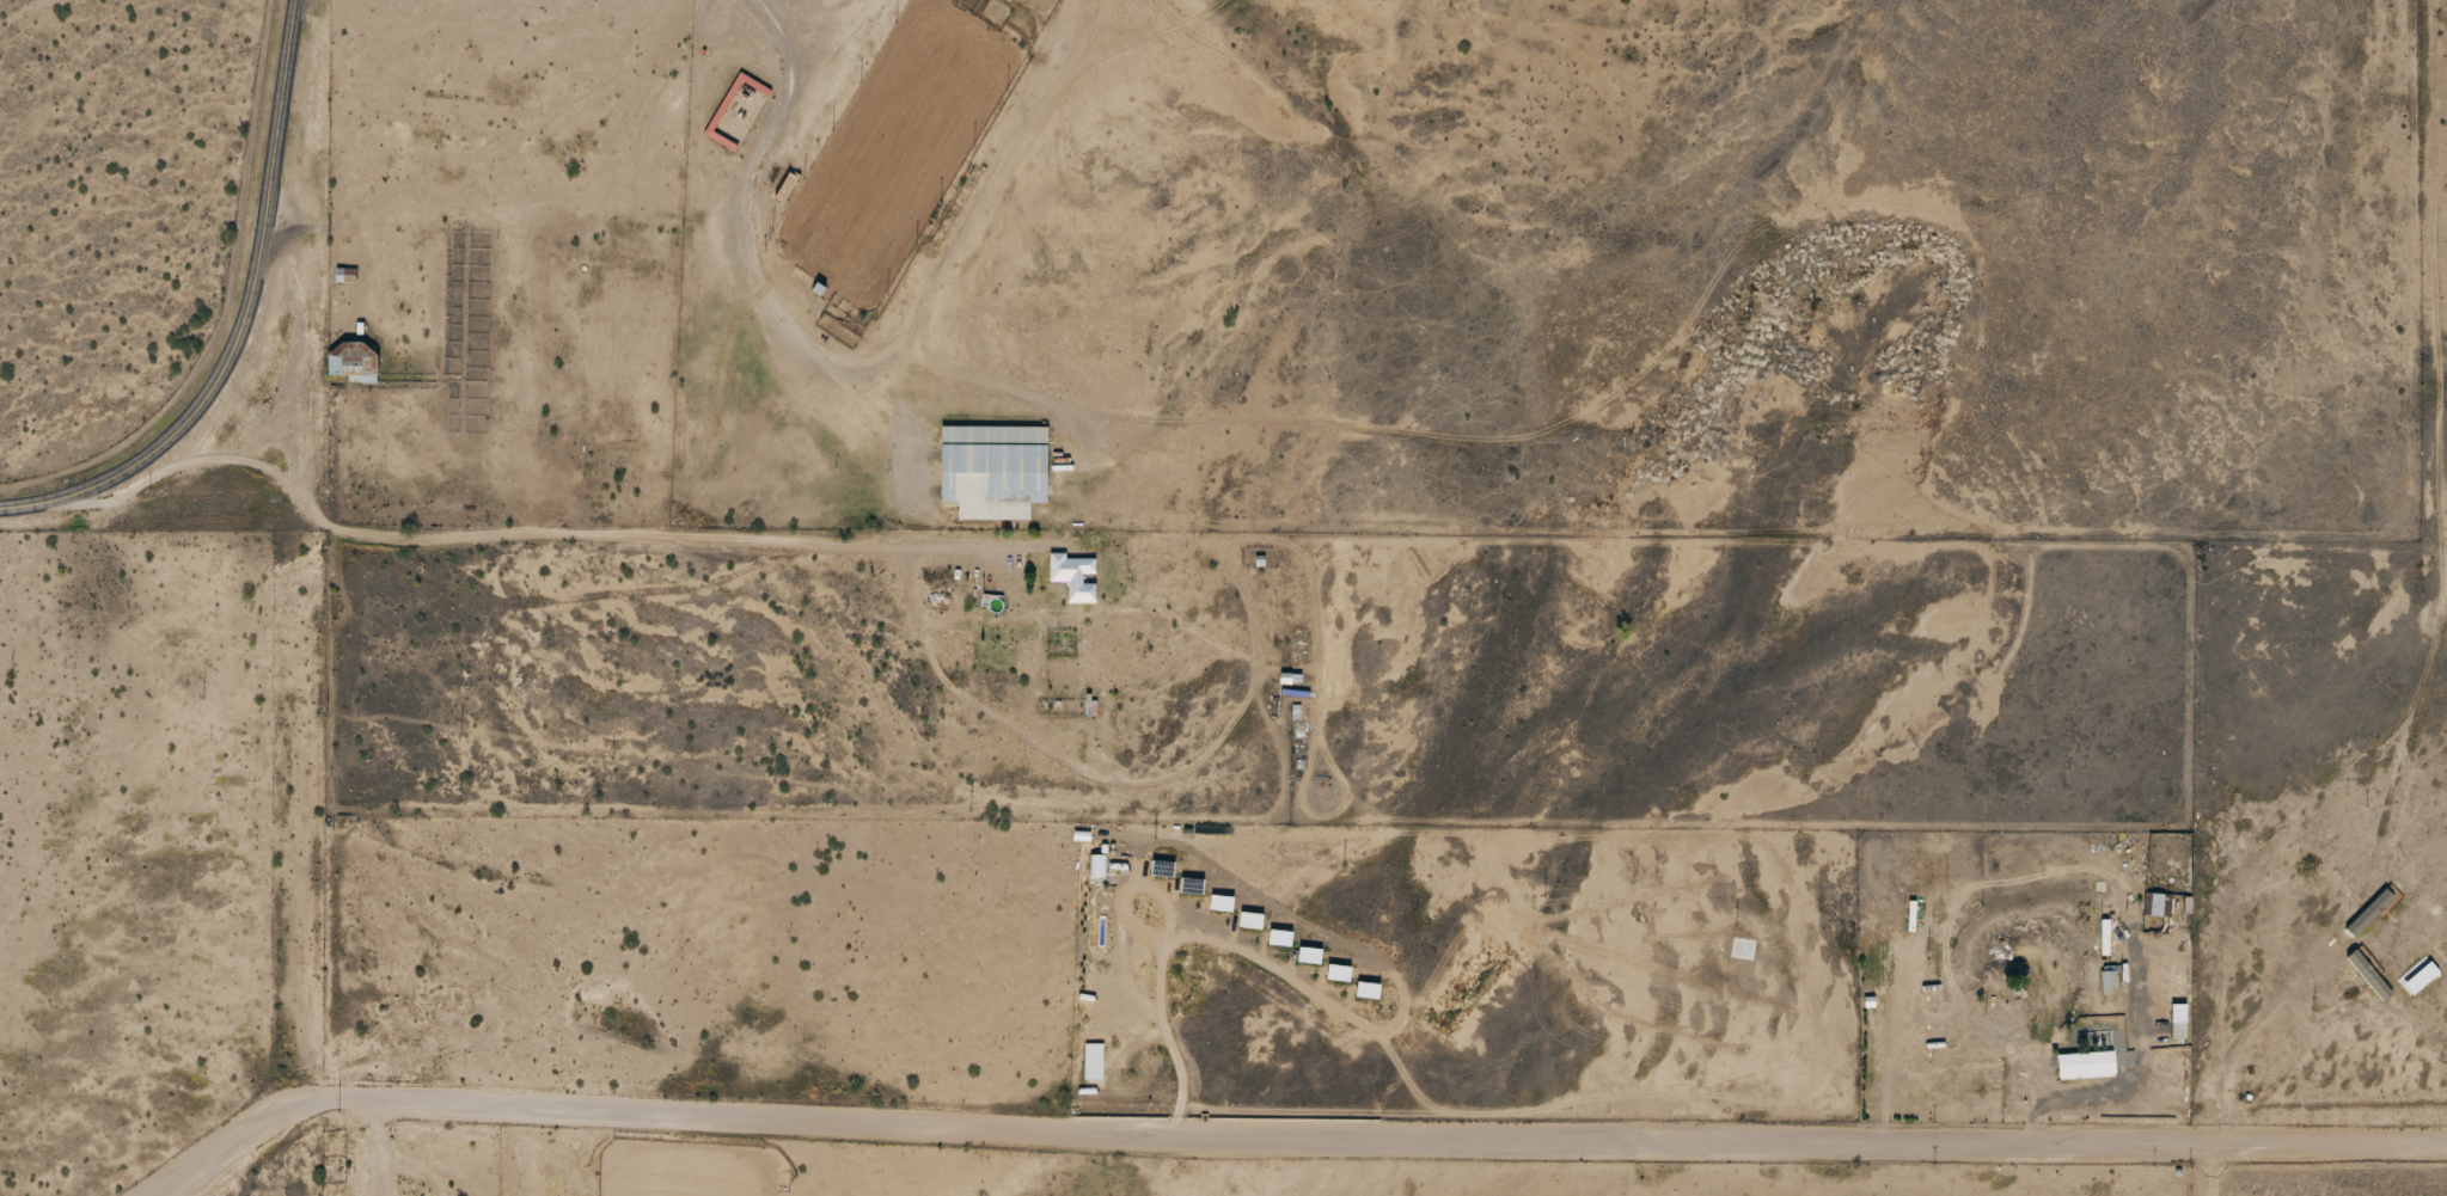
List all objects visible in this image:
building: (735, 111)
building: (791, 176)
road: (744, 206)
building: (344, 276)
road: (243, 323)
building: (353, 361)
building: (992, 471)
road: (563, 536)
building: (1069, 568)
building: (1290, 680)
building: (2166, 863)
building: (2155, 906)
building: (2108, 981)
building: (2177, 1022)
building: (2085, 1065)
building: (1969, 1075)
road: (1293, 1137)

